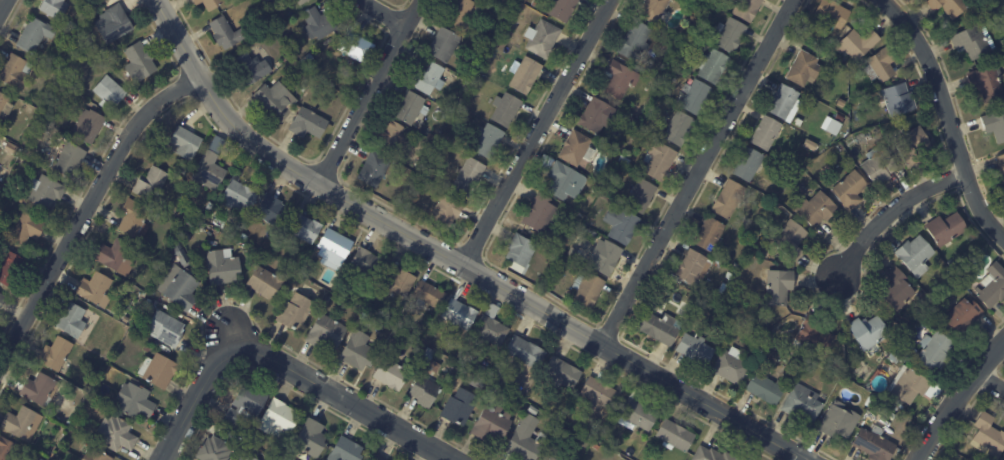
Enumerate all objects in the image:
building: (491, 0)
building: (265, 1)
building: (302, 2)
building: (208, 3)
road: (3, 6)
building: (950, 6)
building: (54, 8)
building: (560, 9)
building: (747, 9)
building: (653, 10)
road: (388, 13)
building: (459, 13)
building: (832, 15)
building: (112, 24)
building: (318, 24)
building: (226, 33)
building: (730, 34)
building: (34, 35)
building: (542, 39)
building: (636, 42)
building: (830, 42)
building: (974, 42)
building: (856, 43)
building: (1002, 43)
building: (443, 46)
building: (356, 47)
building: (109, 59)
building: (306, 60)
building: (678, 60)
building: (139, 63)
building: (712, 66)
building: (881, 66)
building: (61, 69)
building: (804, 69)
building: (14, 73)
building: (252, 73)
building: (524, 75)
building: (428, 79)
building: (619, 80)
building: (467, 82)
building: (987, 83)
building: (89, 84)
building: (303, 89)
building: (108, 91)
road: (371, 92)
building: (436, 94)
building: (694, 97)
building: (274, 99)
building: (899, 100)
building: (785, 104)
building: (844, 104)
building: (4, 108)
building: (409, 109)
building: (505, 110)
building: (595, 116)
road: (947, 116)
building: (840, 118)
building: (798, 123)
building: (307, 124)
building: (30, 126)
building: (831, 126)
building: (995, 126)
building: (87, 127)
building: (679, 129)
road: (538, 132)
building: (766, 133)
building: (390, 137)
building: (487, 139)
building: (183, 143)
building: (620, 145)
building: (810, 145)
building: (911, 146)
building: (841, 147)
building: (576, 149)
building: (69, 161)
building: (546, 161)
building: (659, 161)
building: (1001, 164)
building: (748, 165)
building: (878, 167)
building: (373, 169)
building: (207, 171)
road: (696, 171)
building: (177, 172)
building: (426, 173)
building: (468, 177)
building: (565, 182)
building: (151, 186)
building: (596, 189)
building: (850, 191)
building: (45, 192)
building: (239, 192)
building: (640, 196)
building: (767, 199)
building: (728, 200)
road: (86, 208)
building: (817, 210)
road: (890, 210)
building: (446, 211)
building: (272, 212)
building: (539, 214)
building: (132, 218)
building: (219, 222)
building: (621, 225)
building: (944, 226)
building: (23, 228)
building: (303, 228)
building: (709, 235)
building: (790, 240)
building: (334, 248)
building: (274, 250)
building: (520, 252)
building: (764, 252)
building: (113, 255)
building: (916, 256)
building: (555, 257)
building: (182, 259)
building: (606, 259)
road: (454, 260)
building: (567, 263)
building: (366, 264)
building: (736, 266)
building: (9, 268)
building: (221, 268)
building: (691, 269)
building: (306, 274)
building: (729, 276)
building: (326, 279)
building: (398, 282)
building: (264, 283)
building: (992, 286)
building: (778, 288)
building: (182, 289)
building: (722, 289)
building: (95, 290)
building: (587, 290)
building: (679, 290)
building: (898, 291)
building: (429, 296)
building: (2, 299)
building: (331, 302)
building: (658, 305)
building: (766, 309)
building: (295, 313)
building: (459, 315)
building: (963, 317)
building: (125, 320)
building: (71, 321)
building: (167, 329)
building: (490, 330)
building: (660, 330)
building: (325, 333)
building: (868, 333)
building: (813, 335)
building: (763, 337)
building: (758, 347)
building: (695, 350)
building: (912, 351)
building: (358, 352)
building: (524, 353)
building: (934, 353)
building: (55, 355)
building: (895, 357)
building: (448, 361)
building: (840, 362)
road: (280, 364)
building: (731, 368)
building: (158, 370)
building: (562, 373)
building: (392, 374)
road: (989, 381)
building: (477, 383)
building: (908, 386)
building: (766, 389)
building: (38, 390)
building: (424, 392)
building: (492, 394)
building: (600, 396)
road: (955, 396)
building: (134, 400)
building: (245, 402)
building: (869, 403)
building: (803, 404)
building: (459, 408)
building: (636, 414)
building: (276, 415)
building: (217, 419)
building: (70, 421)
building: (839, 422)
building: (22, 424)
building: (492, 424)
building: (116, 434)
building: (988, 436)
building: (256, 437)
building: (310, 437)
building: (674, 437)
building: (875, 444)
building: (528, 445)
building: (596, 447)
building: (213, 449)
building: (7, 450)
building: (52, 450)
building: (345, 450)
building: (51, 455)
building: (95, 455)
building: (711, 455)
building: (245, 457)
building: (377, 457)
building: (42, 458)
building: (548, 459)

